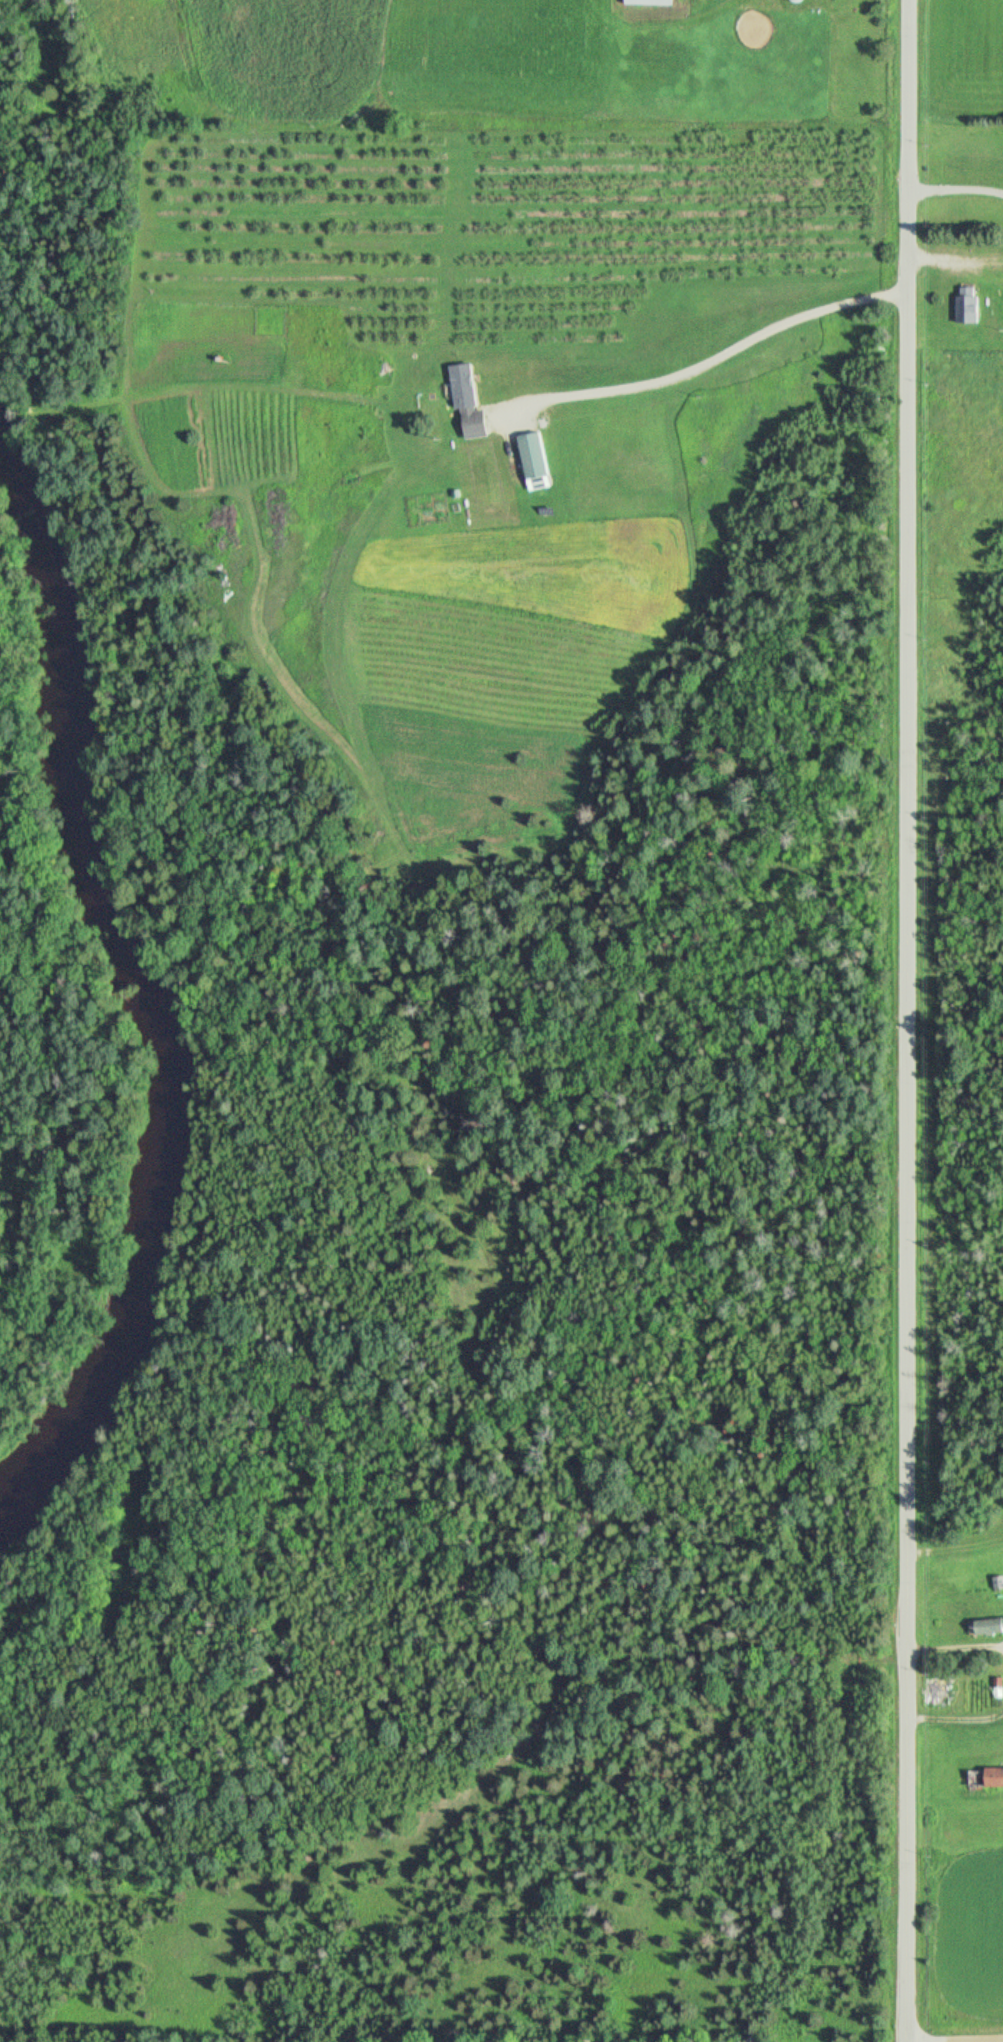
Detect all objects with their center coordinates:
building: (649, 2)
road: (959, 189)
road: (959, 258)
building: (974, 303)
road: (714, 361)
building: (470, 380)
building: (482, 418)
building: (539, 449)
building: (553, 507)
river: (137, 1001)
road: (916, 1021)
building: (993, 1622)
road: (959, 1647)
building: (946, 1687)
road: (959, 1717)
building: (991, 1774)
road: (958, 2041)

